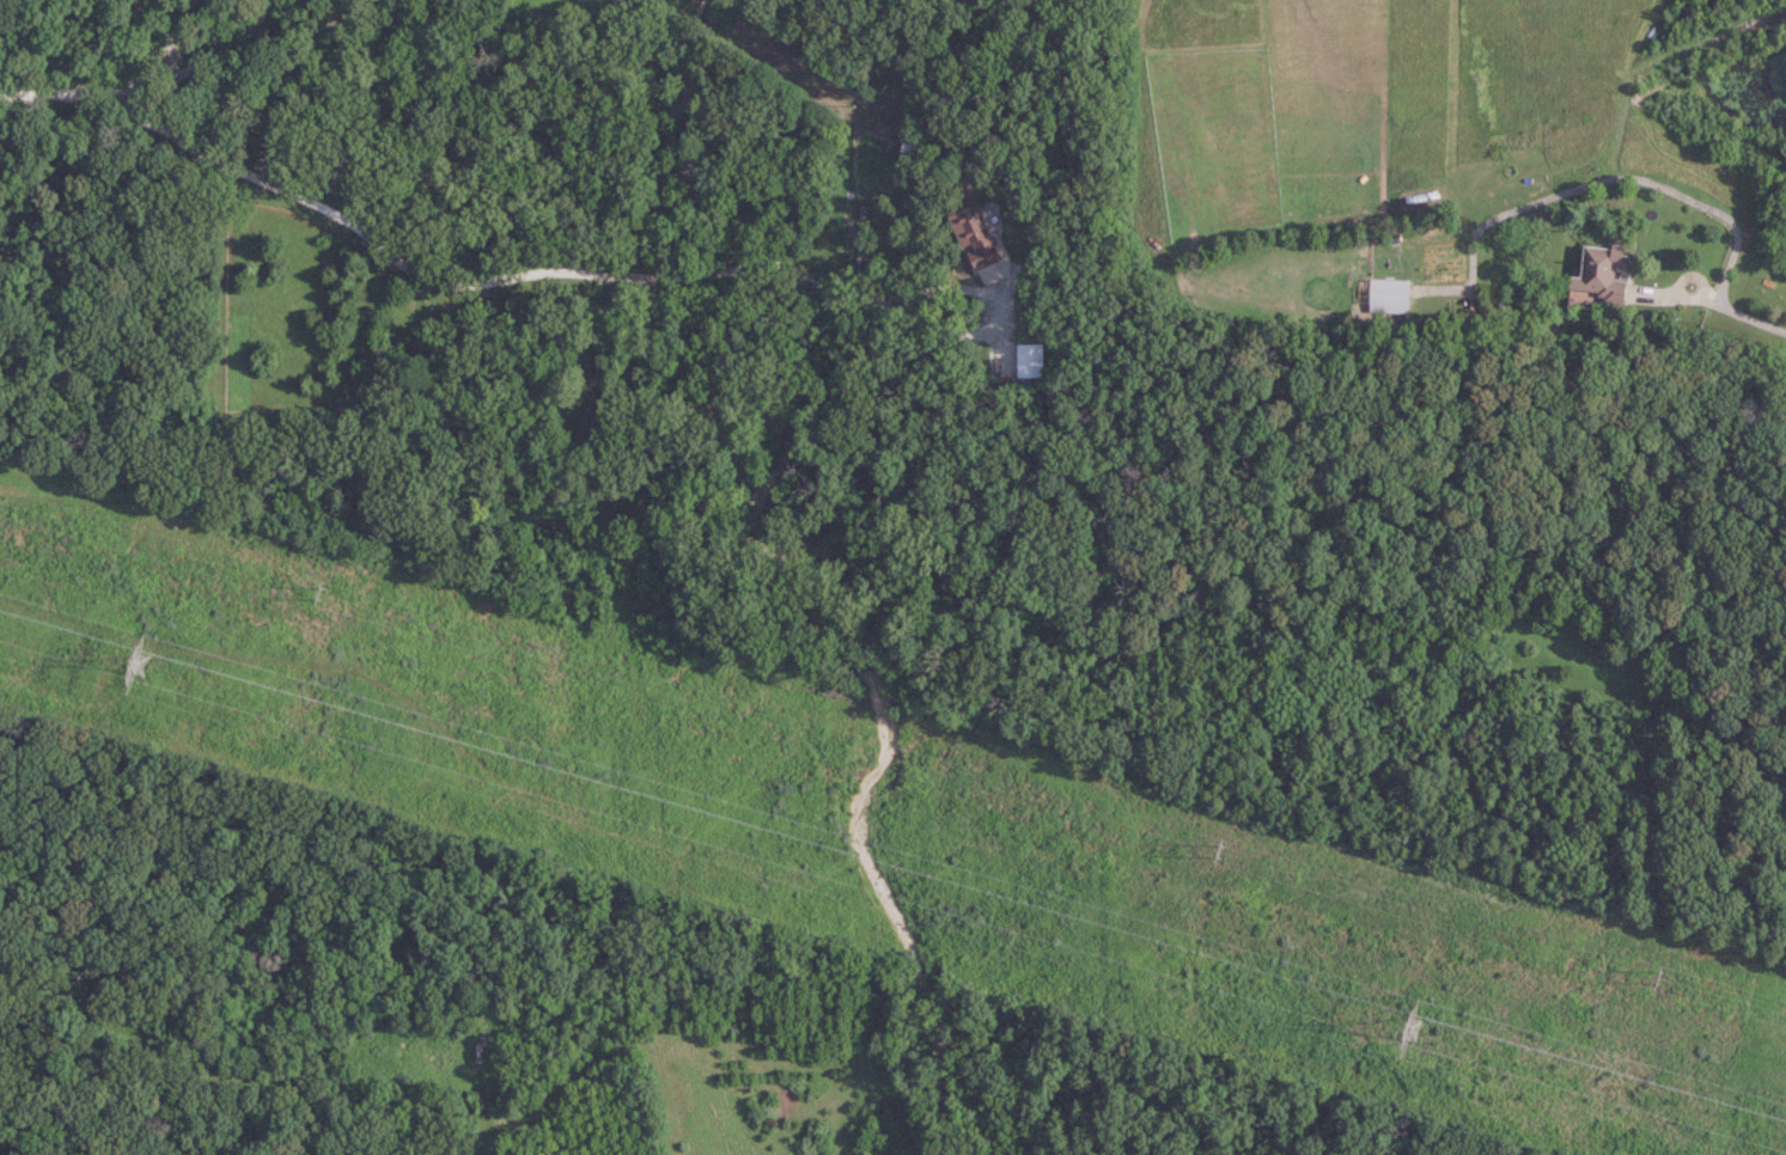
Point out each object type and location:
road: (167, 38)
road: (152, 82)
building: (915, 147)
road: (1614, 177)
building: (976, 238)
building: (1603, 273)
road: (535, 274)
road: (1681, 276)
building: (1391, 297)
road: (1743, 314)
power tower: (321, 589)
power tower: (140, 661)
power tower: (1221, 849)
power tower: (1659, 973)
power tower: (1413, 1031)

